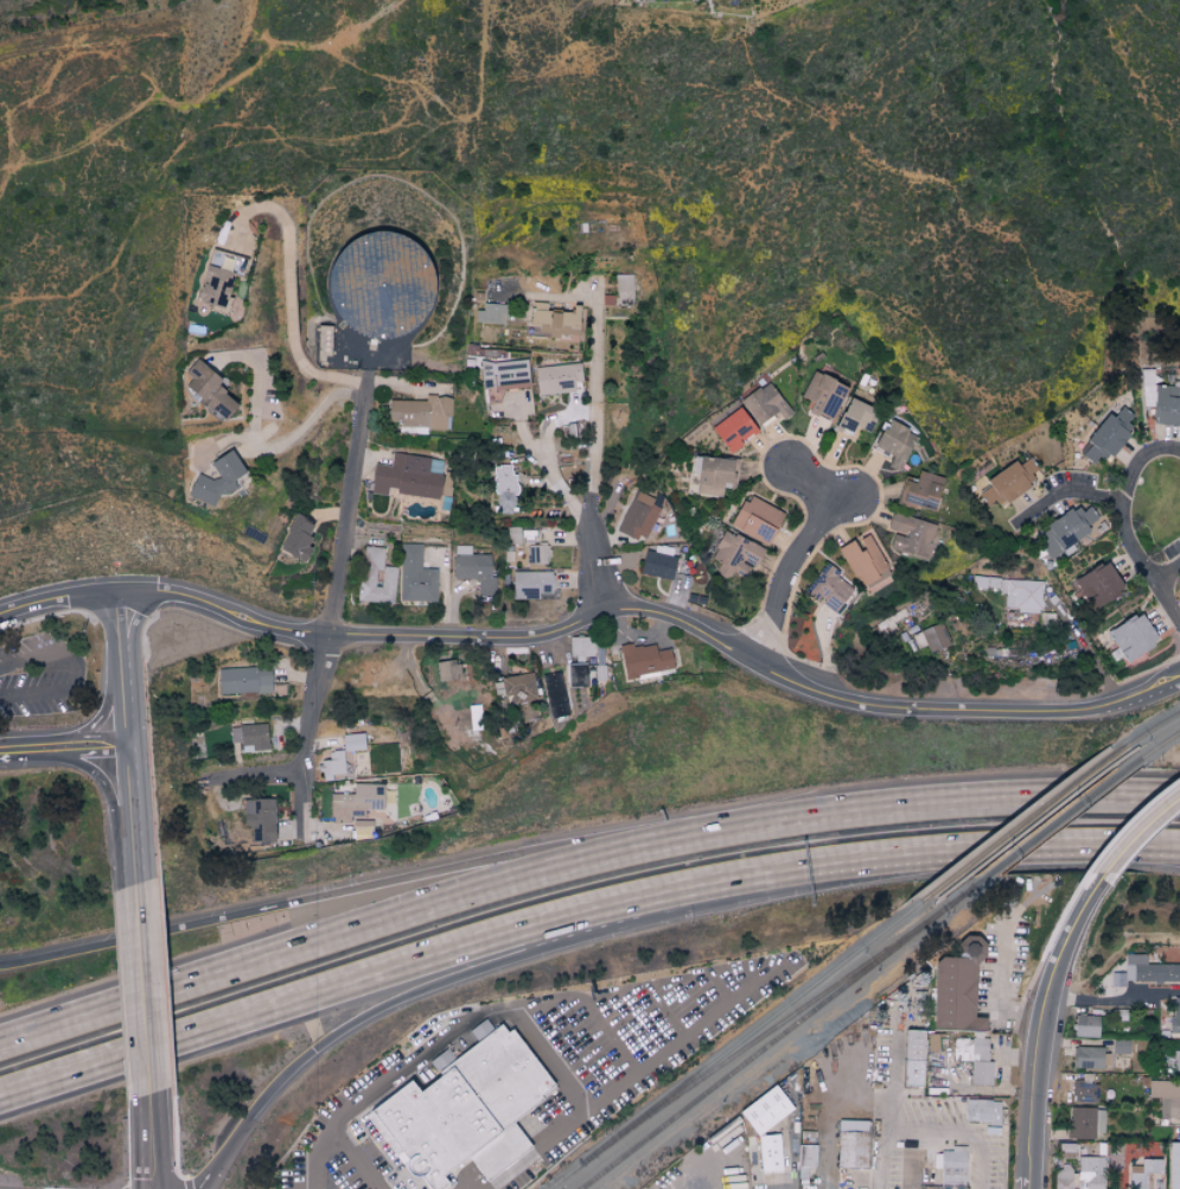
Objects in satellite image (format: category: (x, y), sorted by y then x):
building: (378, 282)
building: (213, 284)
road: (291, 287)
building: (623, 288)
storage tank: (382, 292)
building: (491, 312)
building: (554, 319)
building: (324, 342)
building: (503, 374)
building: (556, 377)
building: (208, 389)
building: (822, 395)
road: (594, 400)
building: (764, 403)
building: (1166, 405)
building: (419, 412)
building: (854, 417)
building: (733, 428)
building: (1108, 434)
building: (894, 443)
road: (256, 449)
road: (548, 466)
building: (713, 473)
building: (408, 475)
building: (215, 481)
building: (1008, 482)
road: (811, 488)
building: (920, 489)
building: (505, 490)
road: (1065, 492)
road: (1127, 502)
road: (347, 508)
building: (638, 516)
building: (755, 520)
building: (1065, 529)
building: (908, 535)
building: (296, 538)
building: (536, 554)
building: (735, 555)
building: (863, 560)
road: (588, 561)
building: (657, 565)
road: (787, 567)
building: (473, 568)
road: (1166, 573)
building: (415, 576)
building: (376, 577)
building: (530, 585)
building: (1098, 585)
building: (829, 590)
building: (1021, 594)
road: (1166, 605)
road: (598, 613)
building: (1131, 636)
building: (931, 637)
building: (581, 647)
road: (122, 660)
building: (643, 660)
road: (76, 669)
building: (576, 674)
building: (243, 680)
building: (519, 687)
building: (554, 694)
building: (474, 717)
railway: (1153, 727)
road: (63, 736)
building: (250, 736)
road: (306, 739)
building: (352, 742)
railway: (1160, 744)
road: (94, 755)
road: (30, 758)
building: (336, 767)
road: (254, 778)
road: (988, 799)
building: (355, 801)
road: (132, 802)
road: (113, 803)
building: (259, 819)
railway: (1023, 821)
railway: (1059, 821)
building: (362, 825)
road: (1131, 843)
road: (980, 850)
road: (397, 880)
road: (394, 916)
road: (385, 969)
building: (1144, 971)
road: (476, 975)
road: (997, 984)
road: (719, 985)
road: (147, 986)
building: (956, 987)
road: (613, 991)
road: (1116, 999)
road: (665, 1010)
building: (1175, 1016)
building: (1085, 1026)
road: (611, 1035)
railway: (765, 1035)
railway: (778, 1036)
road: (1038, 1037)
railway: (735, 1047)
building: (1120, 1047)
road: (1014, 1054)
building: (974, 1057)
building: (1086, 1057)
road: (549, 1058)
building: (912, 1058)
building: (1176, 1061)
road: (620, 1083)
road: (977, 1091)
building: (1084, 1092)
road: (369, 1095)
road: (893, 1096)
building: (1166, 1098)
building: (463, 1109)
building: (765, 1111)
building: (982, 1112)
building: (1085, 1123)
building: (851, 1126)
road: (158, 1137)
building: (851, 1150)
building: (1067, 1151)
building: (768, 1153)
building: (806, 1156)
road: (353, 1158)
building: (1173, 1165)
building: (952, 1168)
building: (1091, 1172)
building: (1142, 1172)
road: (209, 1176)
building: (1063, 1177)
road: (298, 1183)
road: (154, 1184)
road: (159, 1184)

